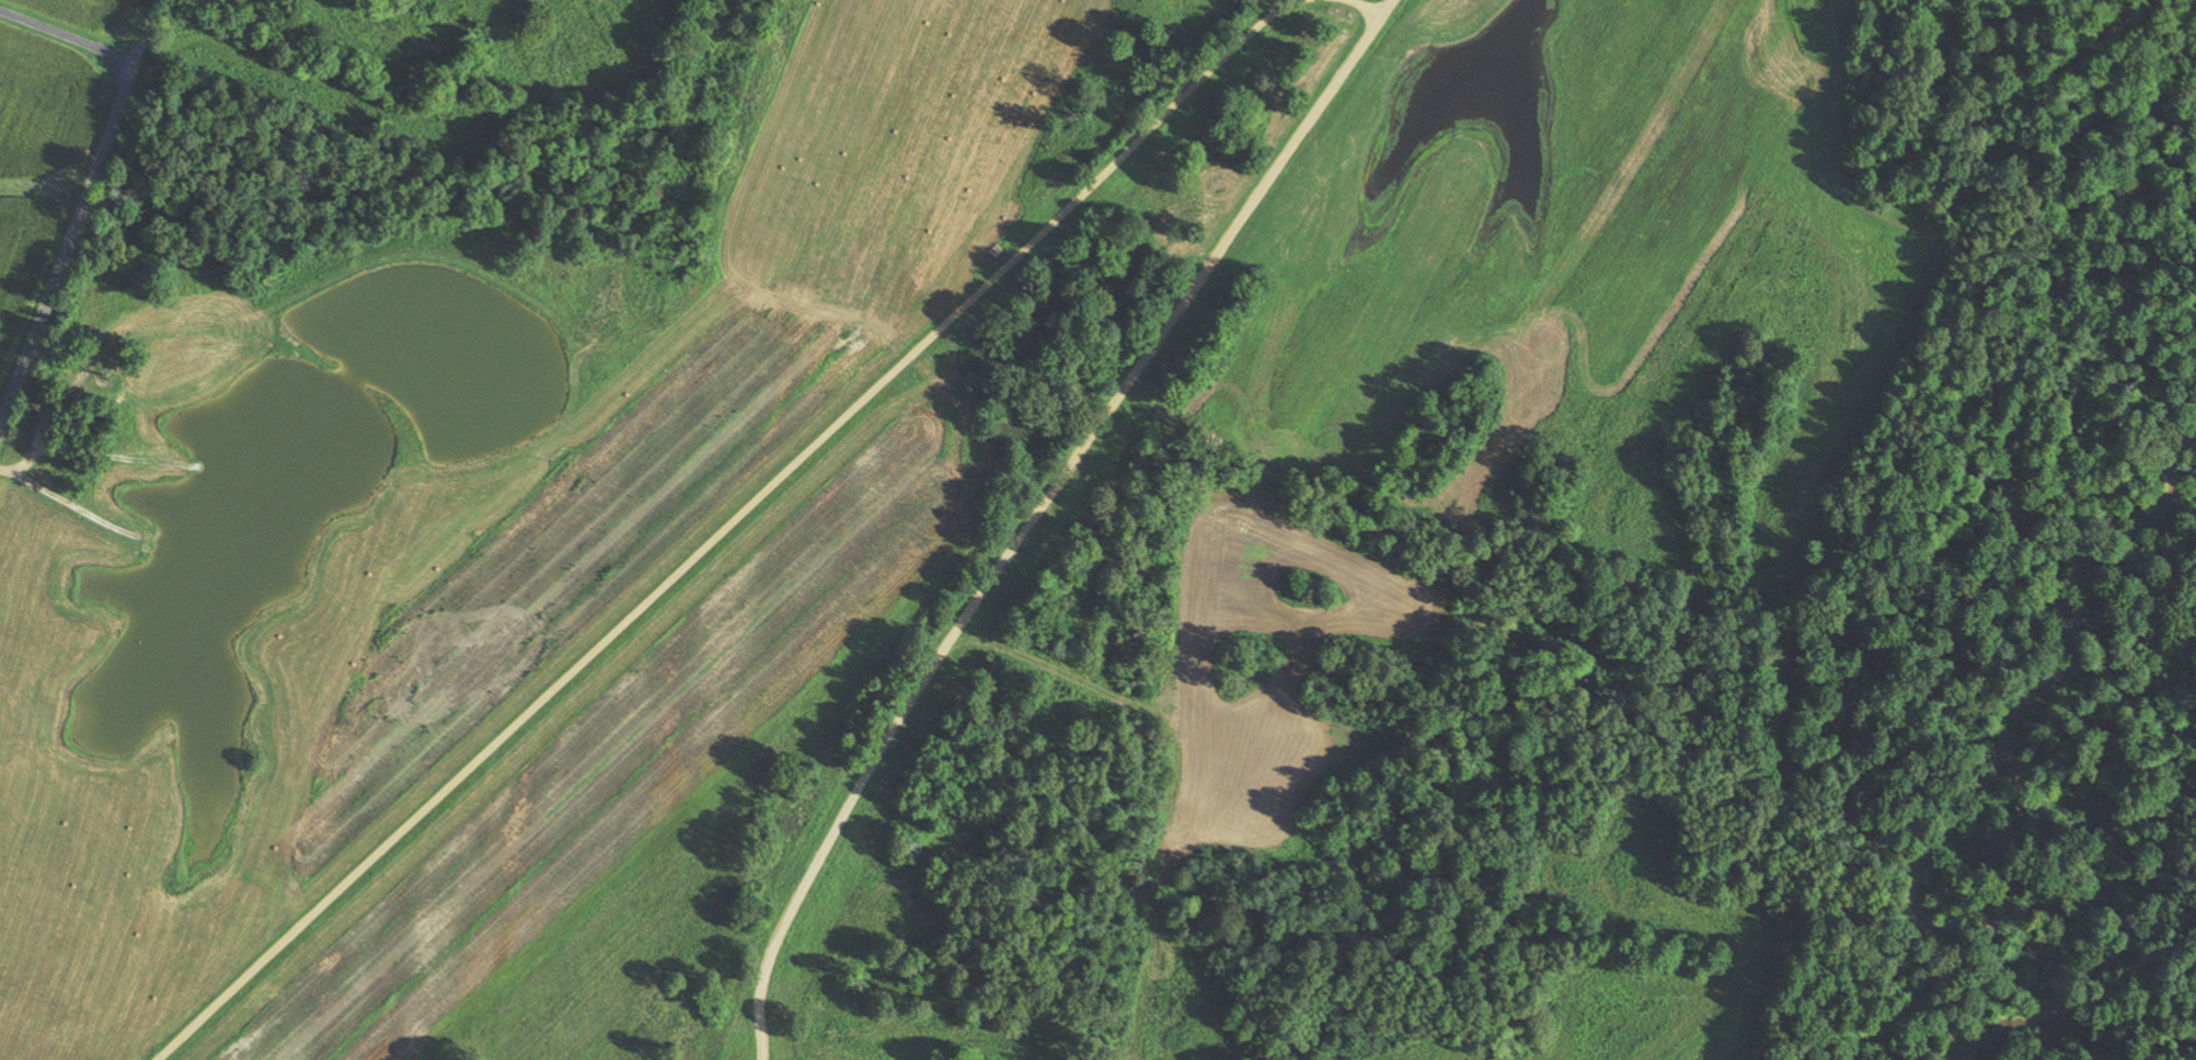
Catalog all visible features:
road: (1369, 8)
road: (73, 232)
road: (1037, 510)
road: (726, 526)

